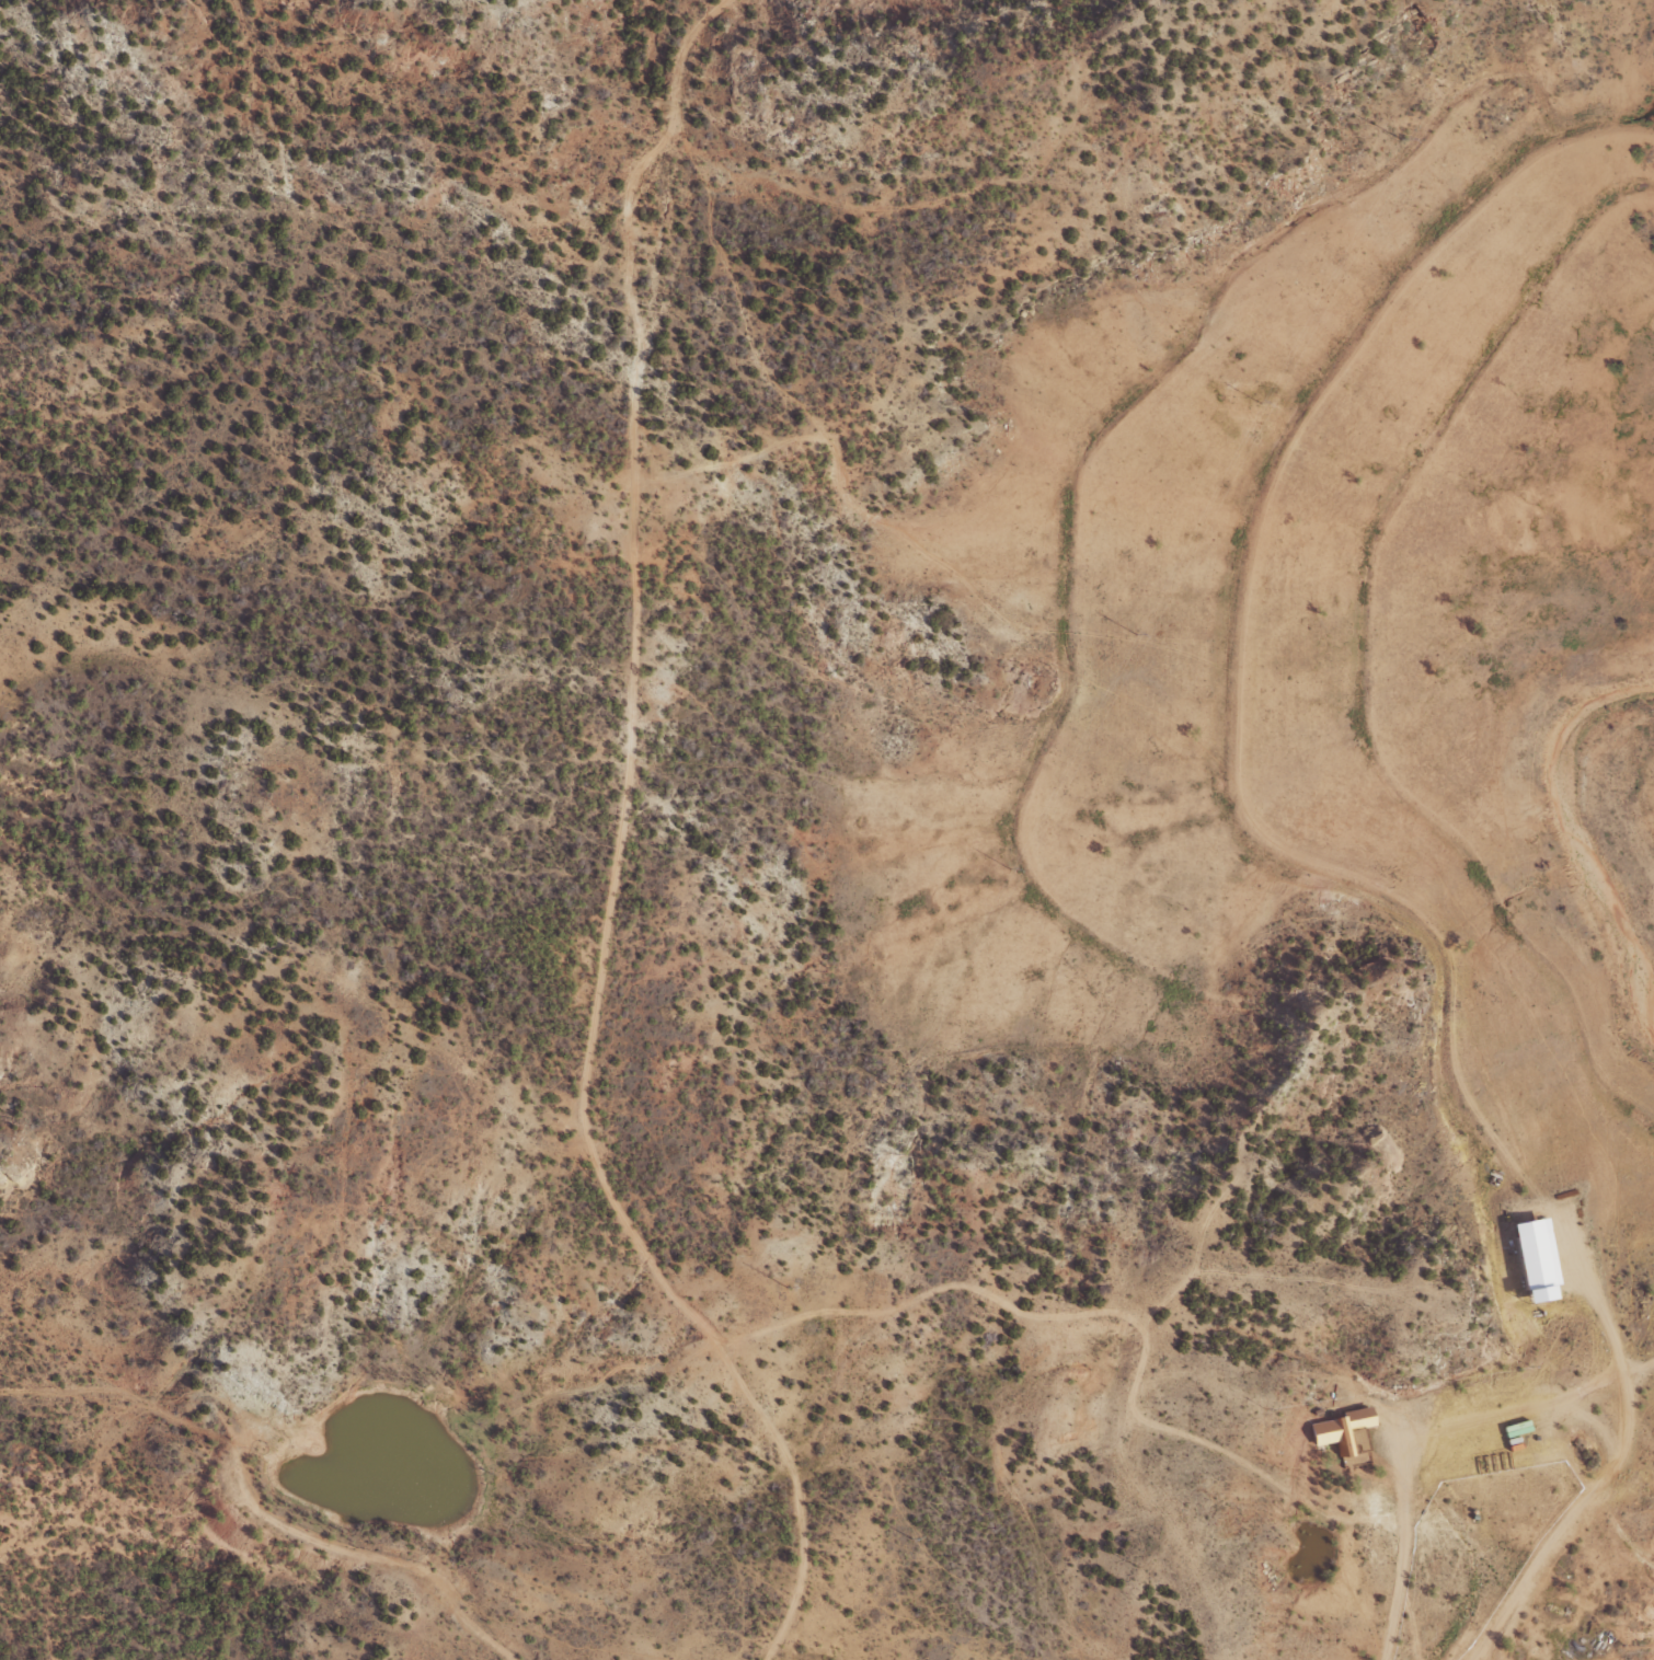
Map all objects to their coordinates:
building: (1351, 1428)
road: (1627, 1454)
road: (1405, 1537)

